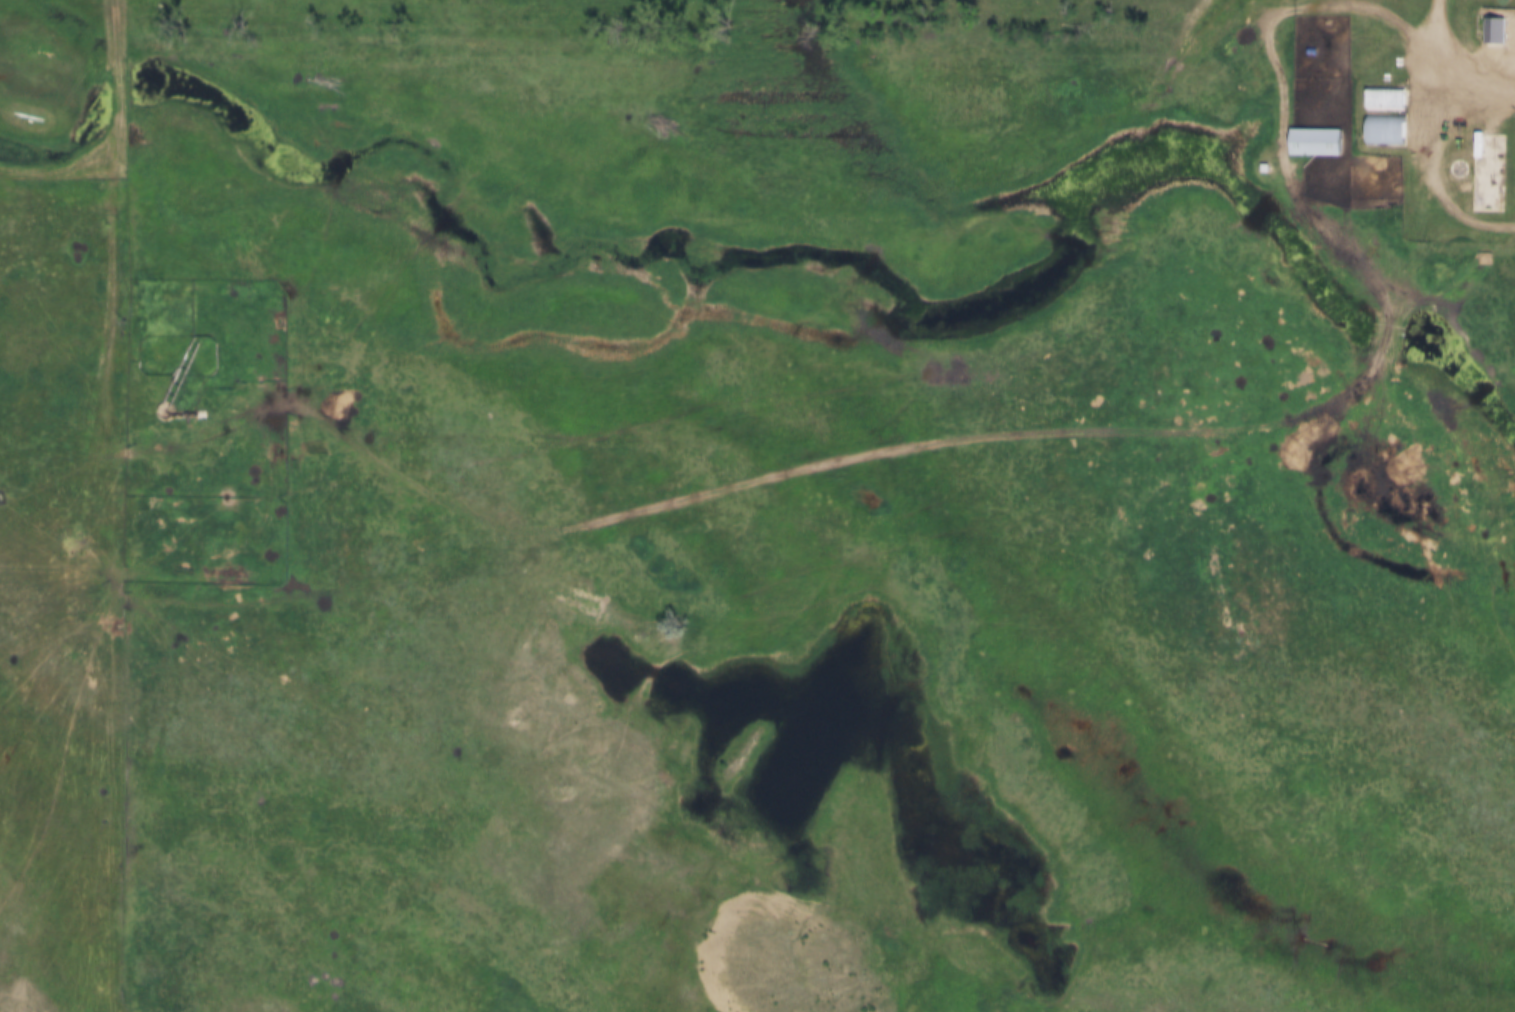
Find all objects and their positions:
building: (1495, 29)
road: (1432, 85)
building: (1386, 98)
building: (1386, 128)
building: (1315, 139)
building: (1459, 166)
road: (1466, 209)
road: (116, 297)
road: (1087, 425)
quarry: (17, 962)

